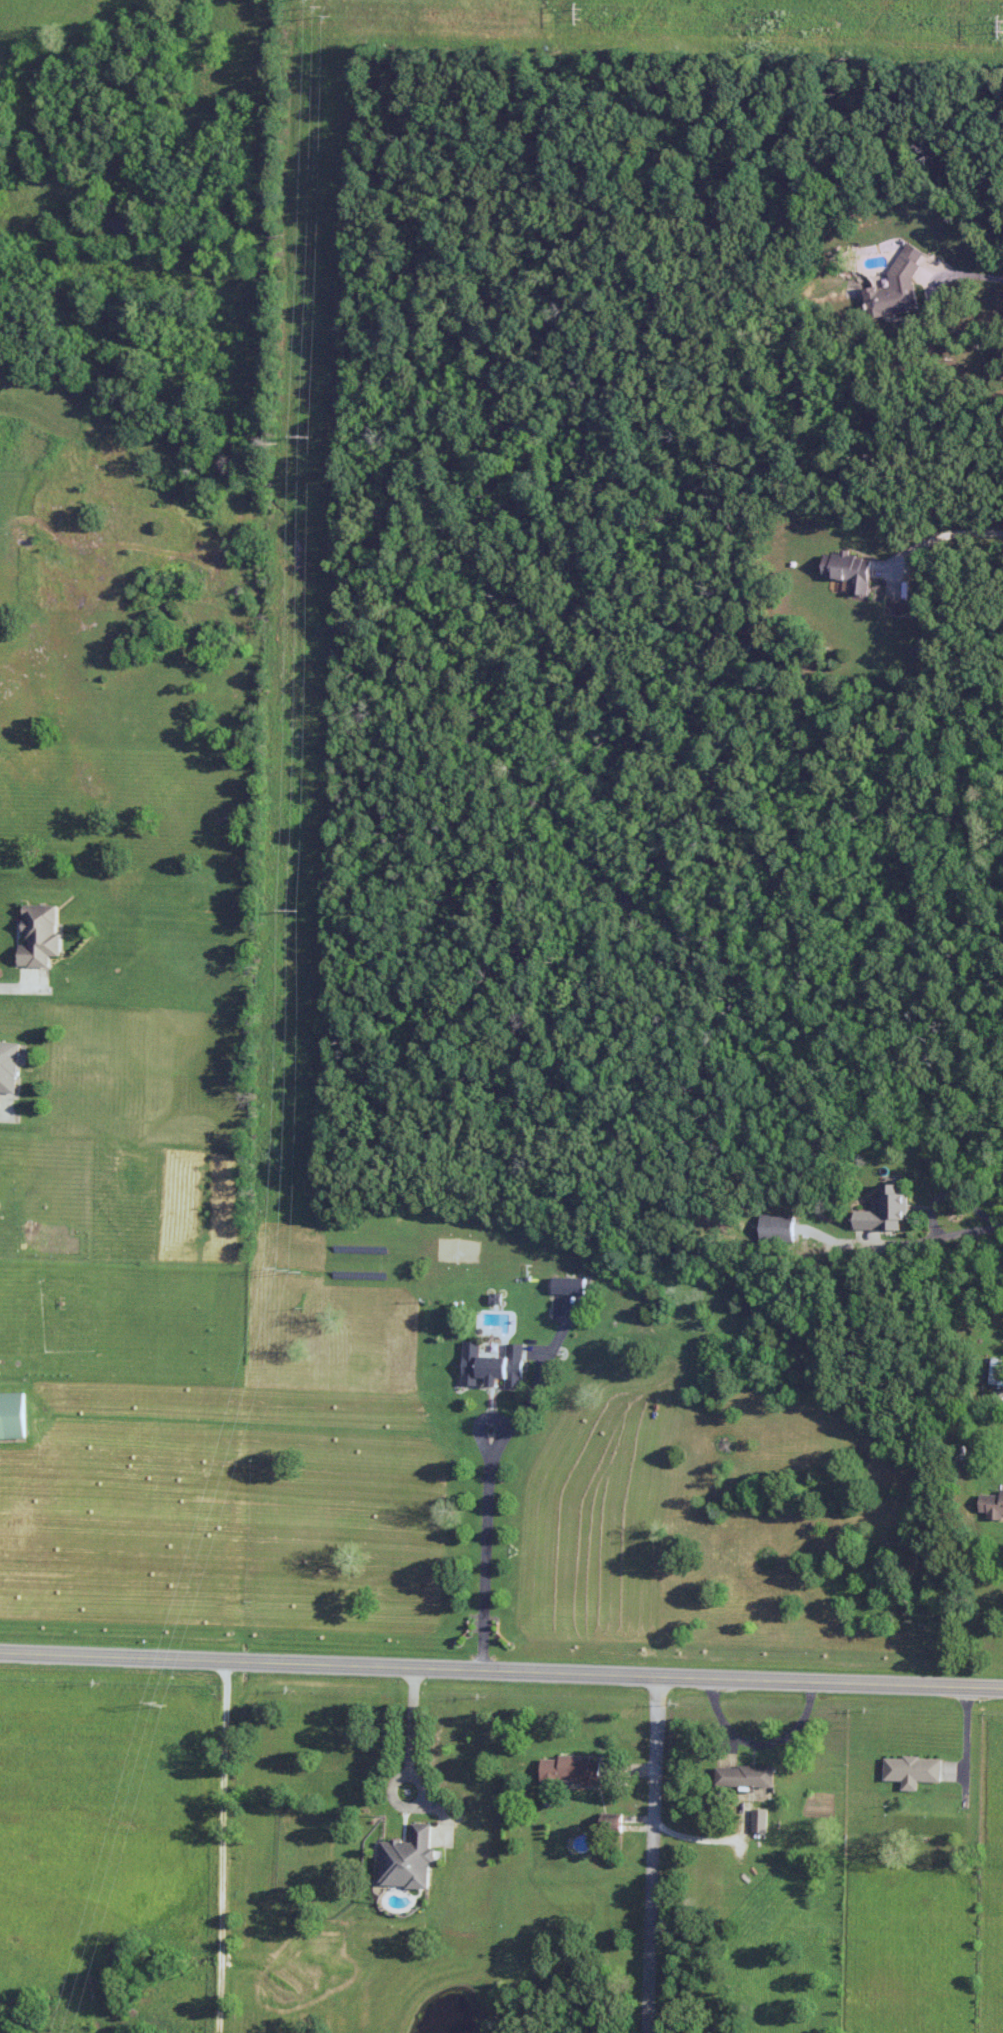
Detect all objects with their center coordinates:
road: (999, 276)
building: (898, 287)
road: (937, 294)
road: (928, 532)
building: (856, 571)
building: (43, 935)
road: (18, 982)
building: (10, 1065)
road: (4, 1110)
building: (889, 1212)
road: (958, 1213)
building: (779, 1228)
building: (572, 1286)
building: (496, 1366)
building: (997, 1372)
building: (13, 1416)
road: (489, 1499)
building: (994, 1505)
road: (501, 1669)
road: (964, 1740)
building: (575, 1769)
building: (915, 1771)
building: (748, 1776)
road: (223, 1846)
road: (654, 1853)
building: (410, 1859)

